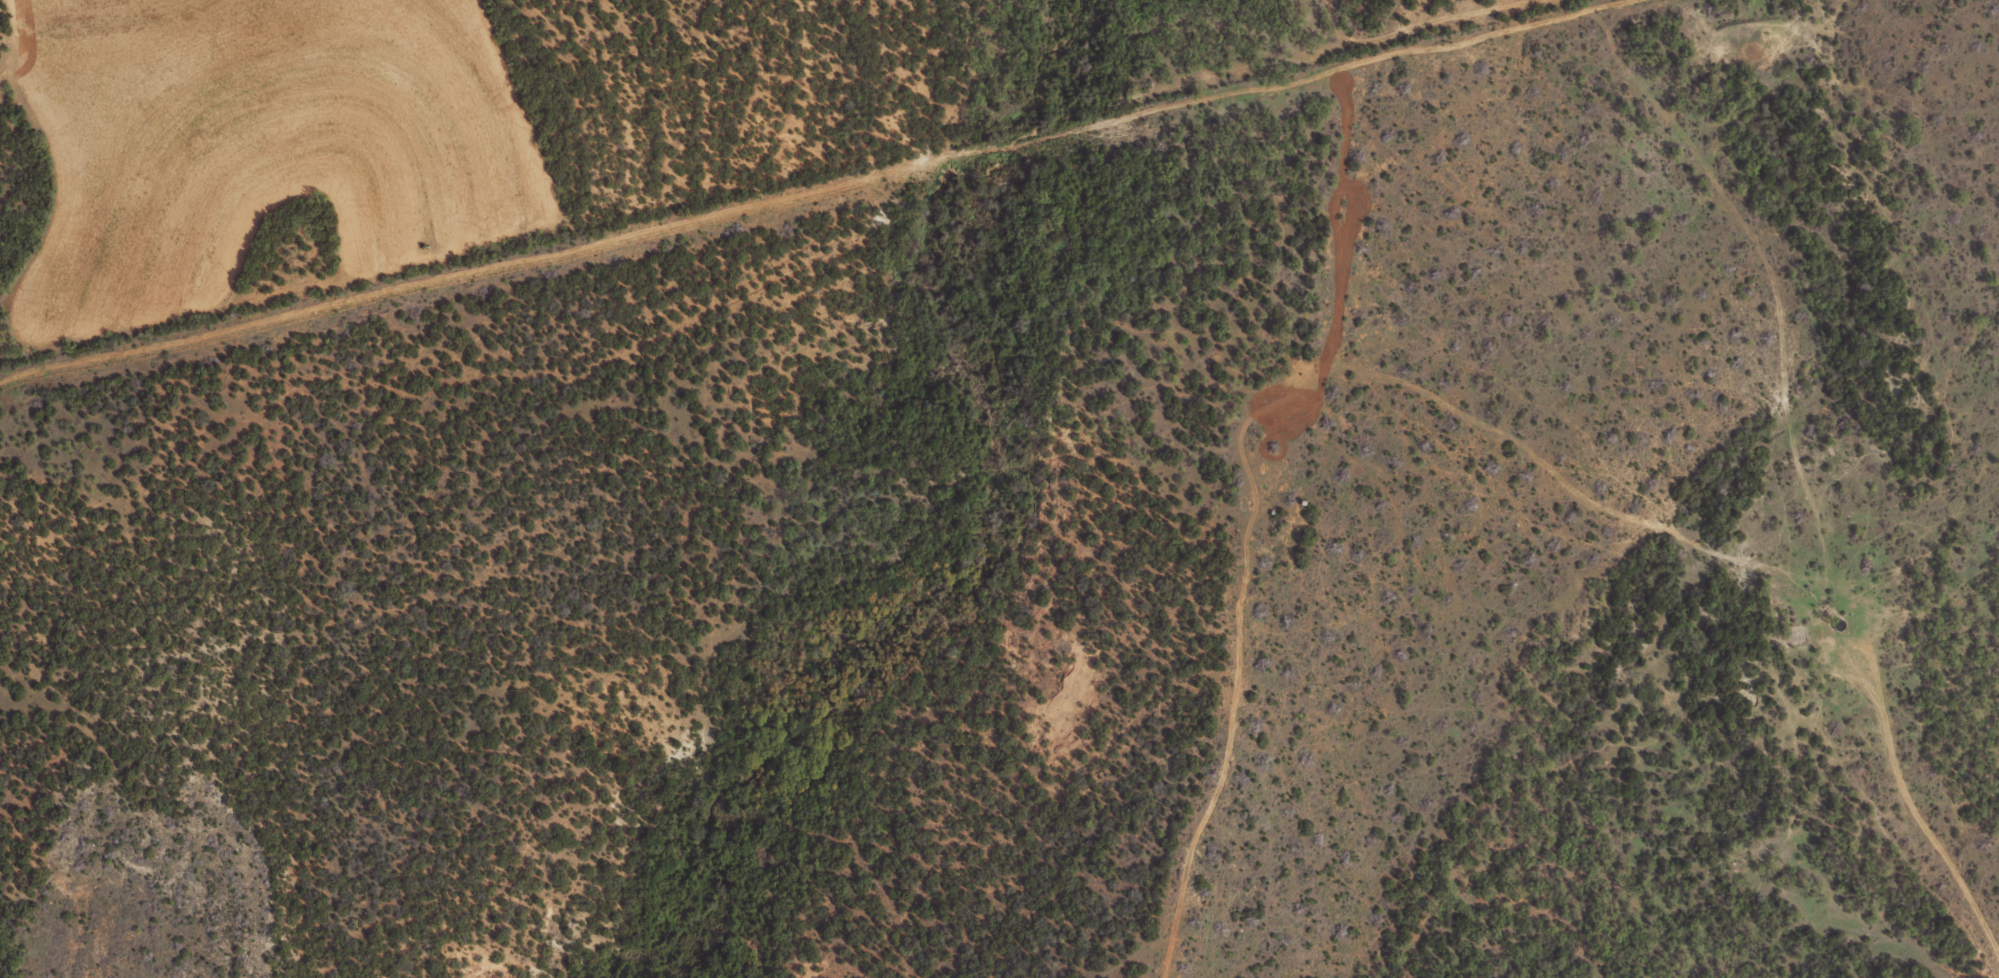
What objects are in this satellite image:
road: (780, 299)
road: (1636, 558)
road: (1207, 676)
road: (1706, 876)

